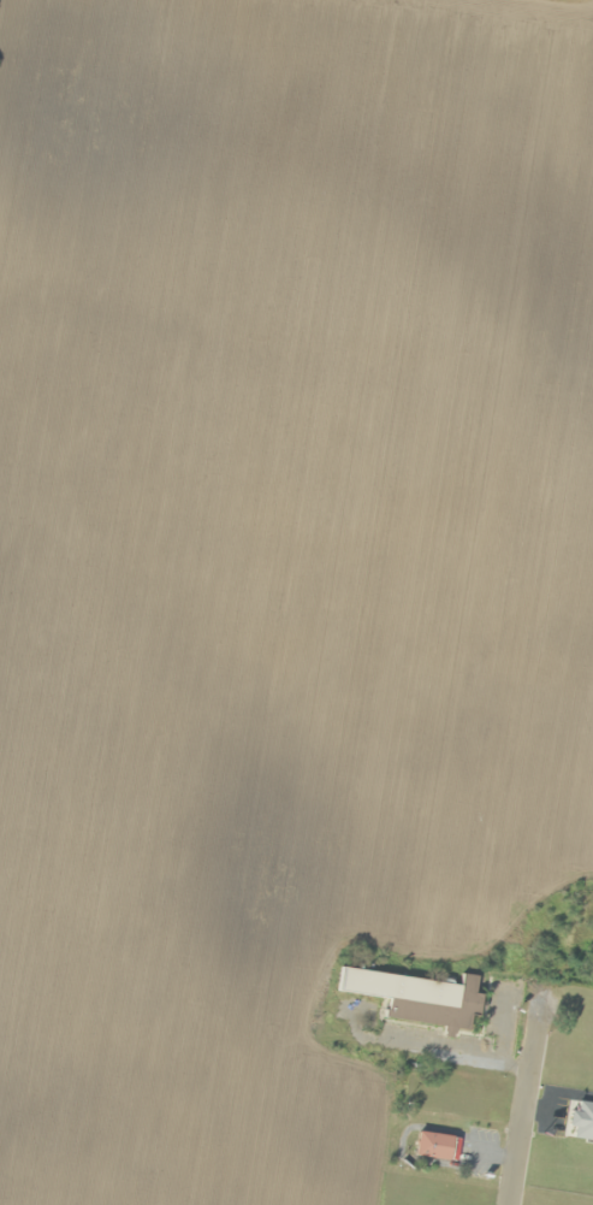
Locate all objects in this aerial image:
building: (411, 997)
building: (431, 1146)

